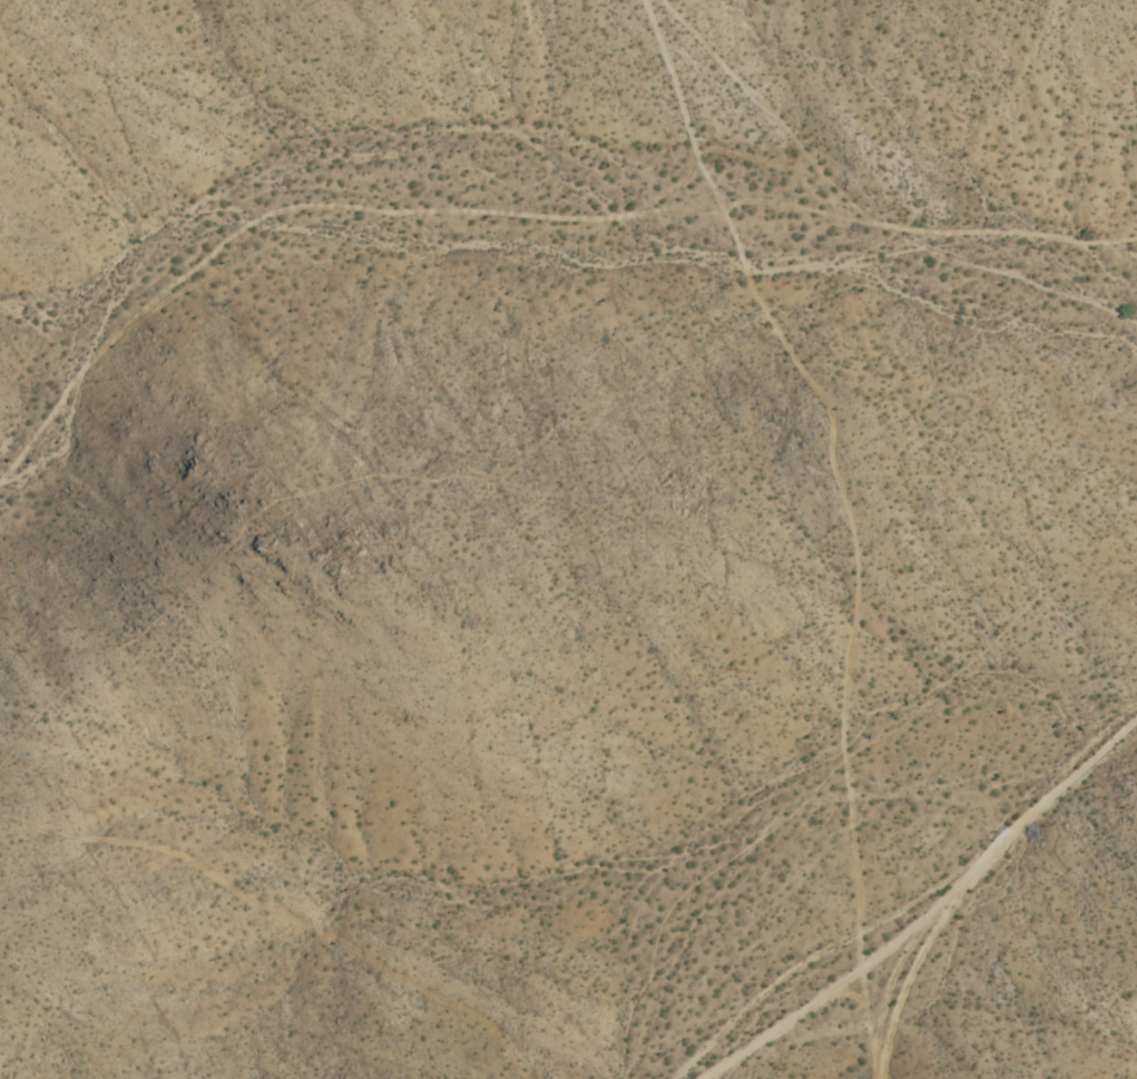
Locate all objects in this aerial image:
road: (863, 1018)

